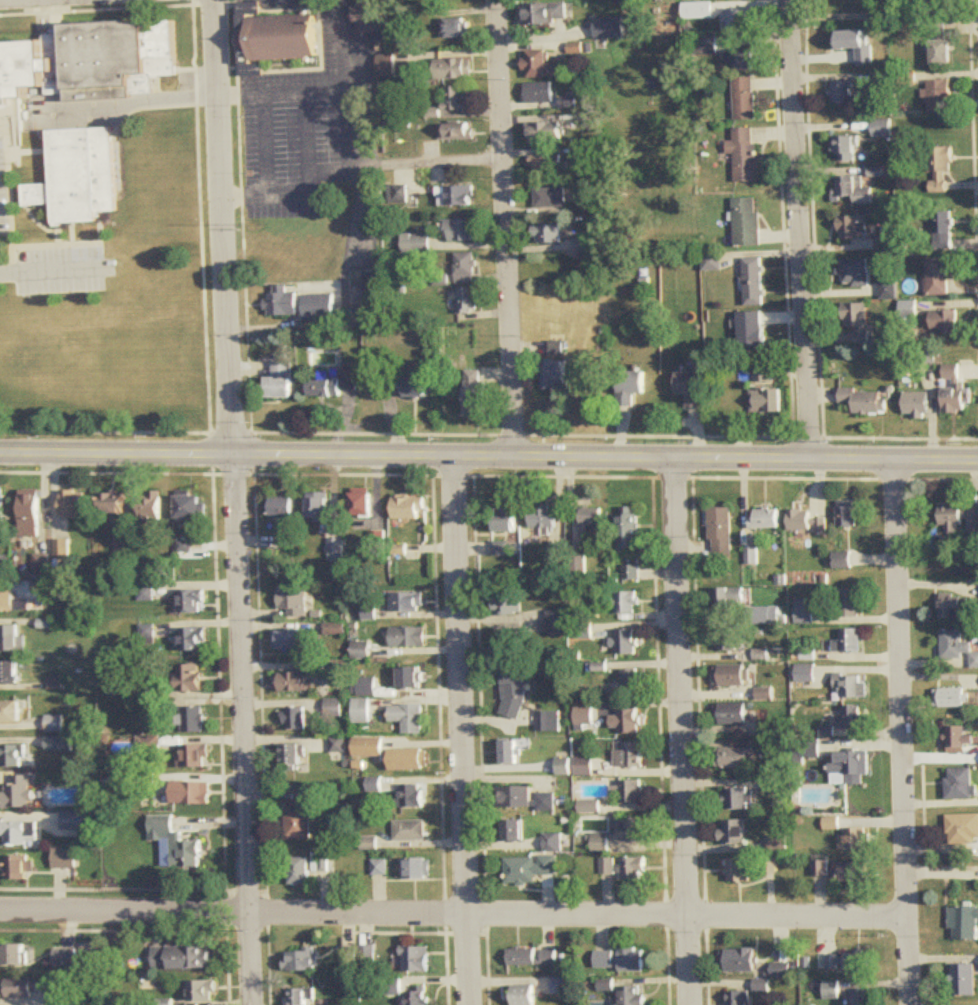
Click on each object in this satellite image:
building: (938, 1)
building: (547, 13)
building: (369, 16)
building: (741, 19)
building: (456, 28)
building: (283, 35)
road: (343, 43)
building: (941, 48)
building: (89, 60)
building: (741, 61)
building: (387, 65)
building: (542, 66)
building: (456, 69)
building: (540, 93)
building: (843, 93)
building: (940, 96)
building: (458, 98)
building: (745, 98)
road: (126, 102)
road: (348, 107)
parking lot: (309, 117)
building: (882, 128)
building: (458, 132)
building: (546, 133)
road: (310, 138)
building: (845, 149)
building: (747, 155)
road: (451, 159)
building: (547, 164)
building: (940, 167)
building: (881, 171)
building: (79, 176)
road: (271, 188)
building: (853, 189)
building: (399, 194)
building: (457, 195)
building: (551, 197)
building: (747, 221)
building: (850, 227)
road: (508, 228)
building: (461, 230)
road: (799, 230)
building: (942, 230)
building: (549, 234)
building: (416, 242)
building: (587, 243)
building: (712, 263)
building: (466, 268)
road: (51, 269)
building: (855, 273)
building: (940, 275)
building: (754, 281)
building: (372, 289)
building: (468, 300)
building: (284, 301)
building: (321, 307)
building: (857, 320)
building: (945, 322)
building: (558, 348)
building: (557, 375)
building: (282, 380)
building: (334, 382)
building: (414, 386)
building: (630, 386)
building: (692, 388)
building: (476, 392)
building: (765, 392)
building: (955, 392)
building: (866, 400)
building: (917, 404)
road: (489, 457)
building: (112, 502)
road: (236, 502)
building: (74, 503)
building: (363, 503)
building: (191, 506)
building: (284, 507)
building: (320, 507)
building: (410, 507)
building: (153, 508)
building: (2, 509)
building: (31, 513)
building: (847, 514)
building: (959, 517)
building: (506, 518)
building: (546, 518)
building: (593, 519)
building: (766, 519)
building: (808, 523)
building: (630, 533)
building: (722, 535)
building: (336, 550)
building: (752, 557)
building: (843, 560)
building: (2, 561)
building: (557, 568)
building: (632, 572)
building: (729, 597)
building: (193, 600)
building: (293, 601)
building: (625, 601)
building: (13, 602)
building: (409, 602)
building: (508, 603)
building: (850, 603)
building: (953, 606)
building: (805, 611)
building: (766, 616)
building: (558, 621)
building: (336, 628)
building: (409, 637)
building: (11, 638)
building: (193, 638)
building: (294, 639)
building: (728, 639)
building: (626, 641)
building: (849, 641)
building: (957, 646)
building: (9, 672)
building: (806, 674)
building: (732, 675)
building: (191, 677)
building: (411, 678)
building: (296, 679)
building: (117, 681)
building: (631, 682)
building: (851, 686)
building: (513, 691)
building: (951, 698)
building: (362, 711)
building: (11, 712)
building: (732, 714)
building: (852, 717)
building: (408, 718)
building: (586, 718)
building: (194, 719)
building: (294, 719)
building: (549, 721)
building: (627, 722)
building: (54, 724)
road: (463, 730)
road: (682, 732)
road: (904, 732)
building: (958, 740)
building: (59, 744)
building: (369, 748)
building: (511, 752)
building: (14, 756)
building: (194, 756)
building: (630, 756)
building: (293, 757)
building: (735, 758)
building: (413, 760)
building: (564, 767)
building: (851, 768)
building: (960, 784)
building: (631, 792)
building: (18, 793)
building: (191, 793)
building: (412, 796)
building: (528, 799)
building: (736, 799)
building: (300, 816)
building: (75, 821)
building: (161, 827)
building: (963, 829)
building: (411, 831)
building: (514, 831)
building: (734, 832)
building: (20, 834)
building: (623, 838)
building: (855, 840)
building: (554, 843)
building: (779, 845)
building: (187, 856)
building: (63, 859)
building: (608, 866)
building: (381, 867)
building: (634, 868)
building: (19, 869)
building: (419, 869)
building: (529, 869)
building: (739, 870)
building: (299, 871)
building: (852, 873)
road: (454, 913)
building: (964, 924)
building: (14, 955)
building: (360, 955)
building: (181, 957)
building: (524, 958)
building: (551, 958)
building: (66, 959)
building: (417, 959)
building: (303, 960)
building: (620, 960)
building: (740, 961)
building: (848, 962)
building: (781, 971)
building: (964, 980)
building: (562, 986)
building: (18, 988)
building: (202, 991)
building: (525, 995)
building: (302, 996)
building: (418, 996)
building: (630, 996)
building: (738, 998)
building: (862, 998)

